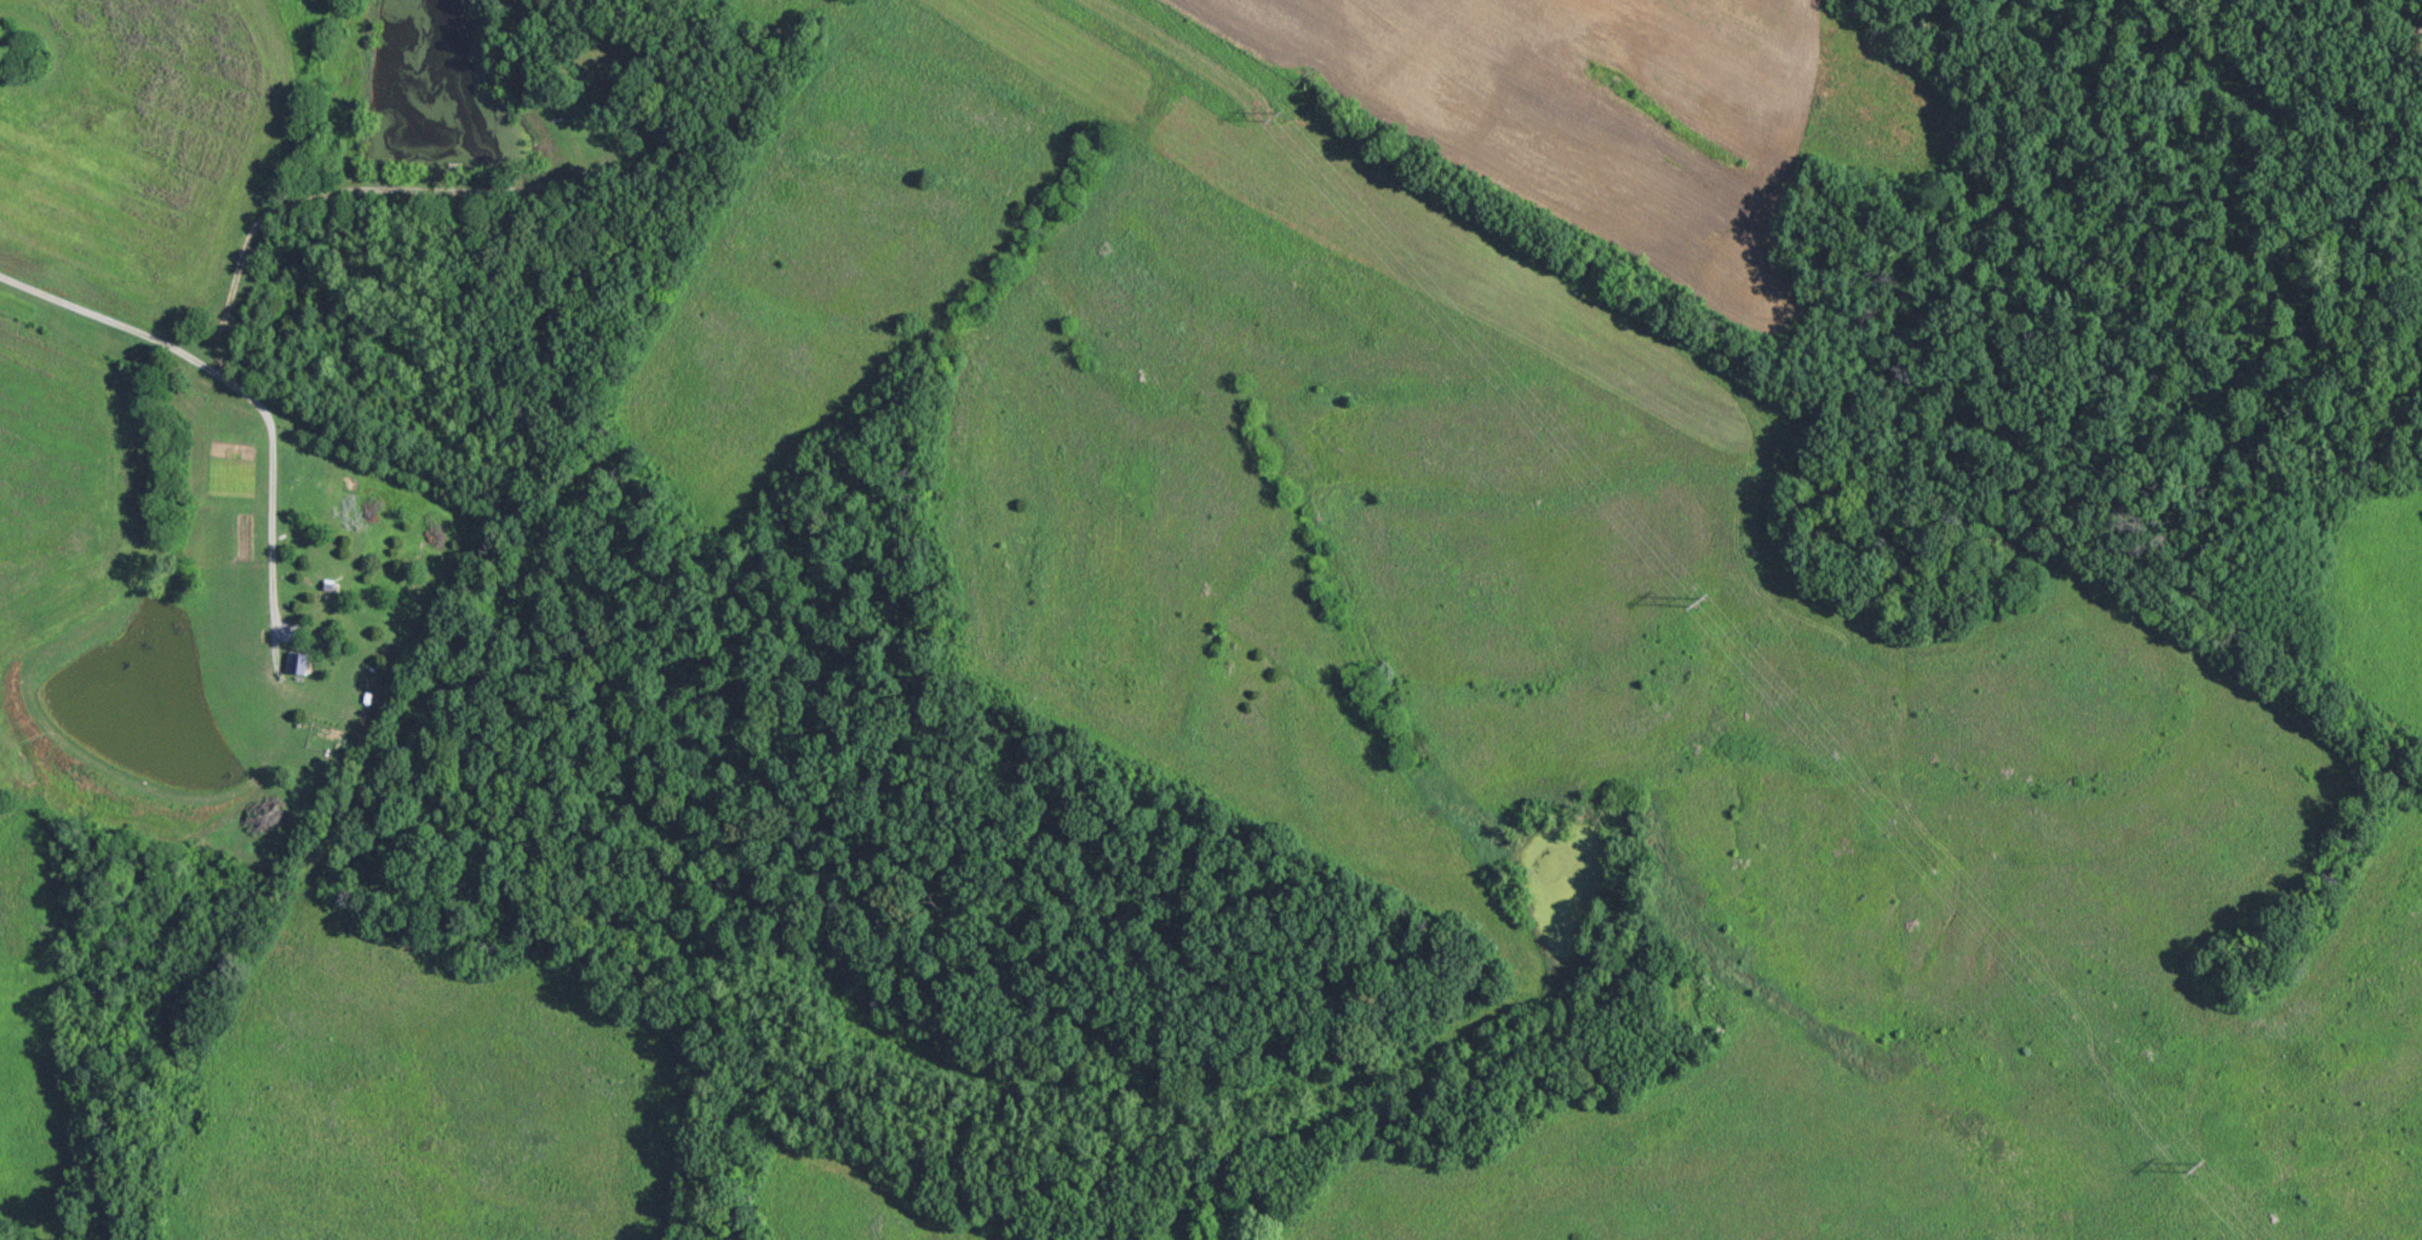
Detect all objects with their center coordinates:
building: (303, 664)

